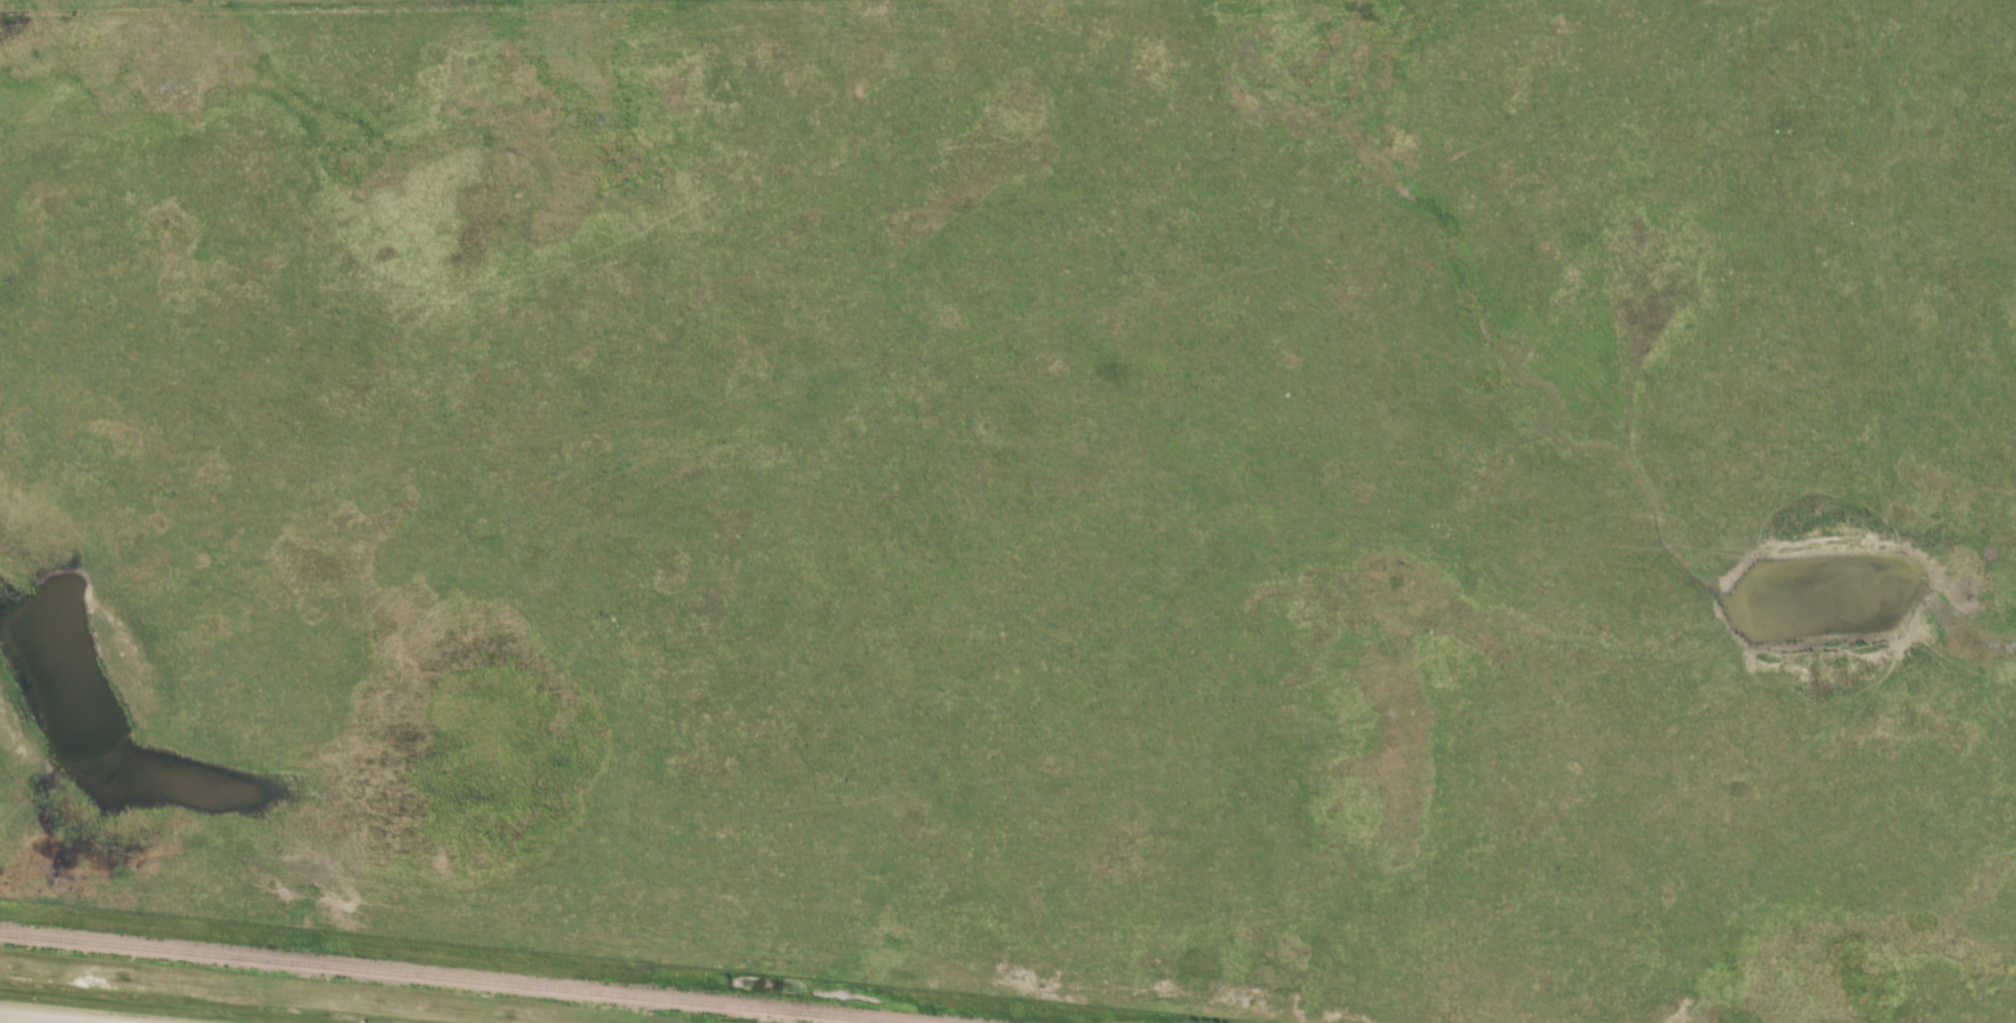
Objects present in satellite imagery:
railway: (445, 978)
road: (52, 1017)

